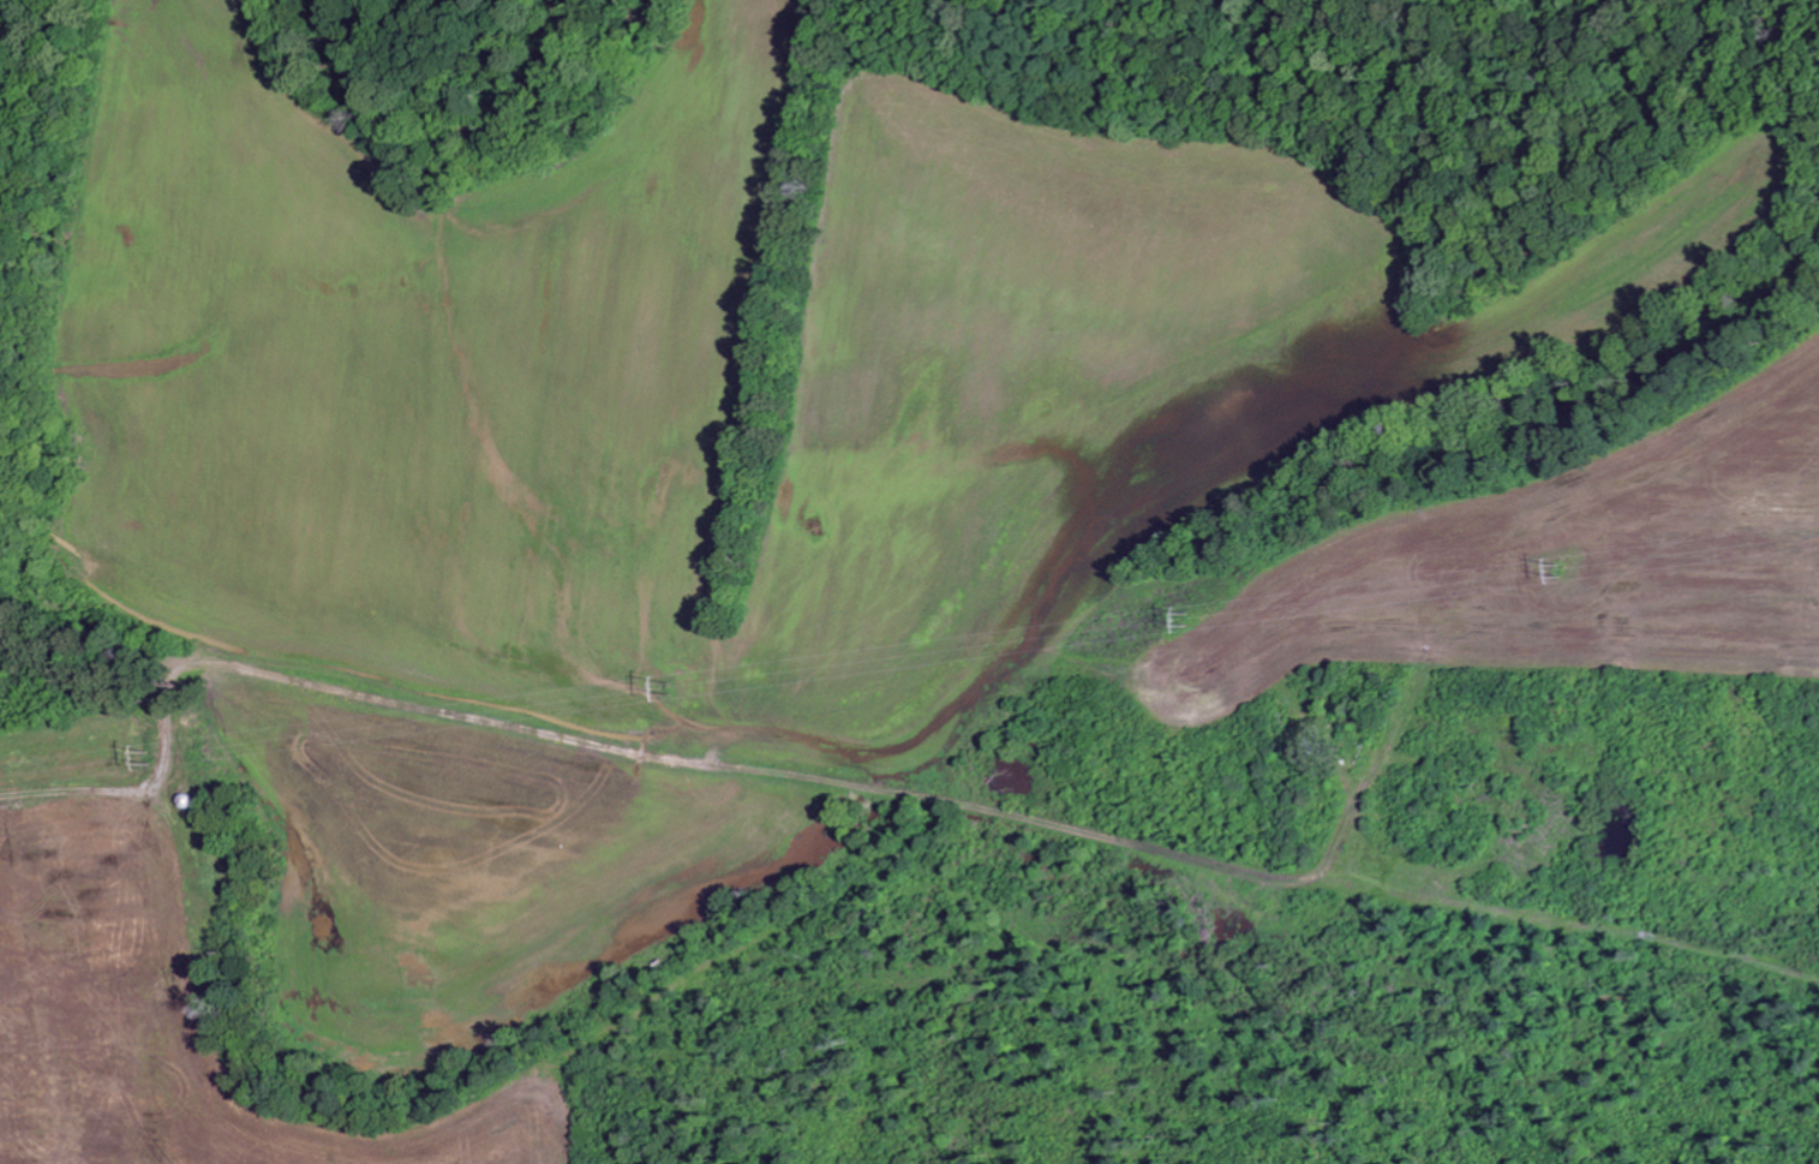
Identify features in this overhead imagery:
road: (602, 751)

